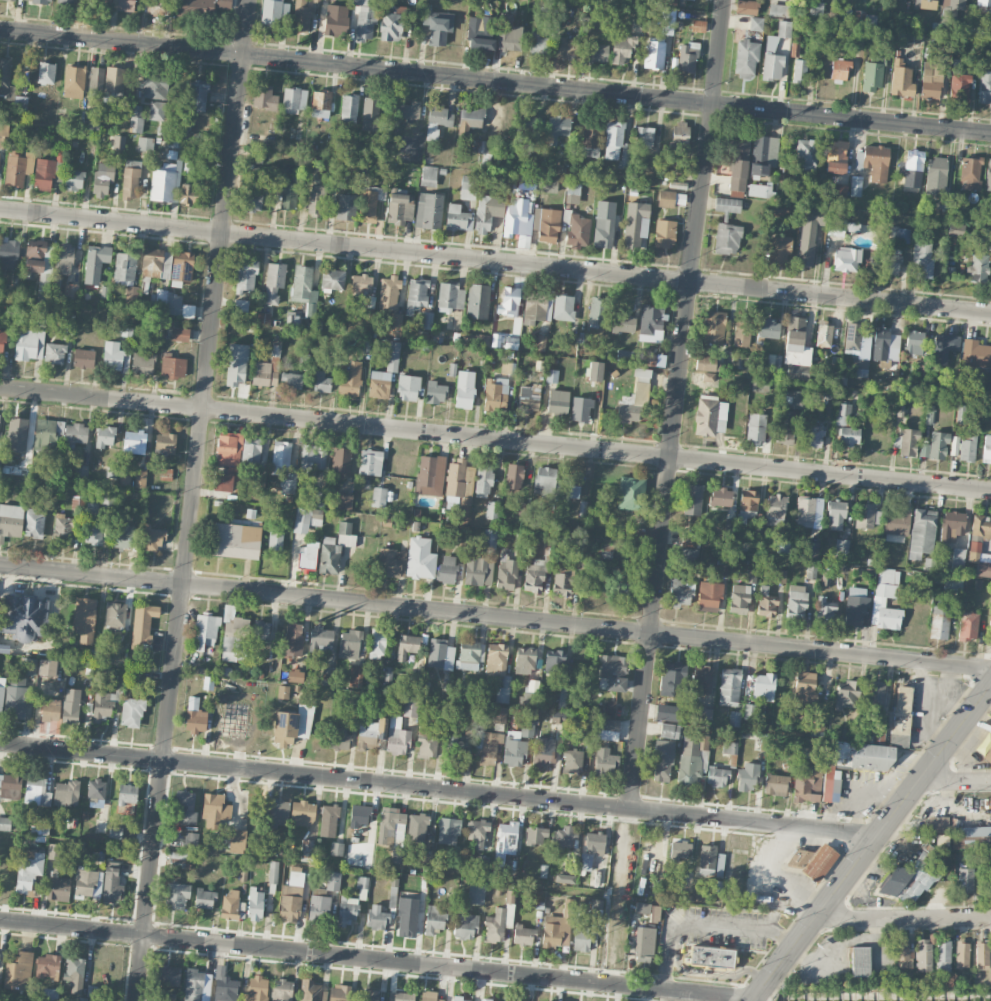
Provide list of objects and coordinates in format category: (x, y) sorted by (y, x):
building: (13, 0)
building: (140, 0)
building: (37, 1)
building: (100, 1)
building: (670, 1)
building: (67, 2)
building: (984, 3)
building: (926, 4)
building: (125, 5)
building: (158, 6)
building: (204, 7)
building: (746, 7)
building: (778, 10)
building: (273, 12)
building: (951, 15)
building: (301, 16)
building: (904, 17)
building: (859, 18)
building: (365, 19)
building: (336, 20)
building: (667, 21)
building: (756, 23)
building: (698, 25)
building: (391, 26)
building: (438, 26)
building: (784, 29)
building: (480, 34)
building: (509, 34)
building: (856, 37)
building: (538, 44)
building: (566, 47)
building: (622, 49)
building: (597, 52)
building: (654, 53)
building: (688, 57)
building: (746, 59)
building: (772, 60)
building: (840, 69)
building: (799, 70)
building: (46, 73)
building: (872, 76)
building: (96, 79)
building: (114, 79)
building: (901, 79)
building: (931, 79)
building: (6, 80)
building: (74, 82)
road: (495, 82)
building: (959, 86)
building: (984, 86)
building: (154, 87)
building: (197, 96)
building: (264, 97)
building: (321, 104)
building: (349, 108)
building: (157, 110)
building: (407, 110)
building: (370, 113)
building: (471, 118)
building: (136, 119)
building: (438, 119)
building: (527, 123)
building: (557, 128)
building: (679, 135)
building: (591, 136)
building: (644, 136)
building: (613, 141)
building: (118, 142)
building: (145, 144)
building: (483, 152)
building: (763, 154)
building: (805, 154)
building: (835, 157)
building: (911, 160)
building: (876, 162)
building: (738, 164)
building: (936, 166)
building: (18, 168)
building: (970, 173)
building: (44, 174)
building: (988, 174)
building: (428, 176)
building: (73, 179)
building: (130, 179)
building: (102, 180)
building: (165, 184)
building: (856, 186)
building: (468, 187)
building: (759, 190)
building: (188, 194)
building: (838, 194)
building: (288, 195)
building: (670, 198)
building: (316, 199)
building: (253, 200)
building: (369, 203)
building: (727, 204)
building: (346, 206)
building: (400, 208)
building: (429, 210)
building: (487, 211)
building: (518, 217)
building: (457, 218)
building: (990, 218)
building: (635, 223)
building: (546, 224)
building: (841, 227)
building: (603, 229)
building: (957, 229)
building: (577, 231)
building: (664, 233)
building: (808, 234)
building: (900, 234)
building: (727, 239)
building: (524, 241)
building: (989, 244)
building: (779, 250)
building: (9, 253)
building: (35, 256)
building: (63, 259)
building: (846, 259)
building: (923, 259)
building: (95, 262)
road: (495, 262)
building: (889, 263)
building: (156, 265)
building: (182, 266)
building: (125, 268)
building: (977, 269)
building: (246, 275)
building: (332, 279)
building: (274, 282)
building: (301, 283)
building: (44, 284)
building: (360, 284)
building: (71, 290)
building: (388, 292)
building: (416, 295)
building: (450, 297)
building: (477, 301)
building: (509, 302)
building: (311, 303)
building: (171, 304)
building: (241, 305)
building: (563, 307)
building: (534, 308)
building: (597, 312)
building: (263, 318)
building: (425, 320)
building: (65, 321)
building: (651, 321)
building: (622, 322)
building: (395, 324)
building: (713, 328)
building: (768, 328)
building: (741, 332)
building: (180, 334)
building: (824, 334)
building: (475, 340)
building: (2, 342)
building: (541, 342)
building: (796, 342)
building: (914, 342)
building: (511, 343)
building: (29, 344)
building: (885, 344)
building: (858, 347)
building: (944, 347)
building: (55, 353)
building: (975, 354)
building: (624, 355)
building: (112, 356)
building: (83, 358)
building: (647, 358)
building: (143, 362)
building: (774, 362)
building: (705, 363)
building: (236, 364)
building: (172, 365)
building: (267, 367)
building: (507, 367)
building: (452, 369)
building: (595, 371)
building: (384, 373)
building: (796, 373)
building: (552, 375)
building: (707, 376)
building: (350, 379)
building: (293, 381)
building: (321, 381)
building: (408, 387)
building: (464, 389)
building: (435, 392)
building: (495, 392)
building: (529, 399)
building: (798, 399)
building: (633, 400)
building: (558, 401)
road: (678, 404)
building: (580, 409)
building: (843, 414)
building: (710, 415)
building: (756, 427)
building: (785, 427)
building: (17, 431)
building: (46, 434)
building: (74, 435)
building: (813, 435)
building: (105, 436)
building: (848, 436)
road: (495, 440)
building: (134, 442)
building: (908, 442)
building: (164, 444)
building: (938, 445)
building: (954, 445)
building: (967, 449)
building: (987, 449)
building: (251, 450)
building: (924, 450)
building: (312, 459)
building: (341, 460)
building: (370, 462)
building: (283, 466)
building: (81, 471)
building: (430, 475)
building: (514, 476)
building: (140, 478)
building: (124, 480)
building: (545, 480)
building: (483, 481)
building: (459, 484)
building: (574, 485)
building: (631, 493)
building: (378, 497)
building: (721, 497)
building: (317, 498)
building: (693, 499)
road: (194, 500)
building: (344, 501)
building: (747, 505)
building: (808, 512)
building: (491, 513)
building: (867, 514)
building: (836, 515)
building: (306, 520)
building: (10, 521)
building: (759, 522)
building: (34, 523)
building: (93, 523)
building: (896, 523)
building: (729, 526)
building: (952, 526)
building: (980, 527)
building: (62, 528)
building: (922, 532)
building: (345, 534)
building: (123, 536)
building: (153, 539)
building: (236, 540)
building: (489, 540)
building: (690, 540)
building: (275, 541)
building: (783, 546)
building: (975, 546)
building: (841, 547)
building: (809, 550)
building: (689, 555)
building: (329, 556)
building: (306, 557)
building: (420, 558)
building: (958, 558)
building: (391, 562)
building: (929, 564)
building: (983, 565)
building: (474, 567)
building: (447, 569)
building: (721, 571)
building: (811, 572)
building: (506, 573)
building: (779, 575)
building: (533, 576)
building: (751, 576)
building: (562, 580)
building: (952, 584)
building: (681, 592)
building: (624, 593)
building: (709, 596)
building: (739, 599)
building: (796, 601)
building: (765, 603)
building: (879, 603)
building: (857, 607)
building: (824, 610)
building: (115, 615)
road: (495, 617)
building: (24, 618)
building: (84, 619)
building: (939, 622)
building: (968, 626)
building: (142, 627)
building: (990, 629)
building: (205, 631)
building: (260, 631)
building: (235, 639)
building: (293, 639)
building: (321, 639)
building: (377, 643)
building: (349, 644)
building: (469, 644)
building: (407, 646)
building: (440, 654)
building: (468, 658)
building: (496, 659)
building: (554, 660)
building: (524, 661)
building: (27, 666)
building: (613, 671)
building: (295, 675)
building: (327, 675)
building: (356, 675)
building: (47, 676)
building: (671, 678)
building: (701, 679)
building: (415, 680)
building: (764, 687)
building: (729, 688)
building: (805, 688)
building: (283, 692)
building: (1, 693)
building: (502, 694)
building: (529, 694)
building: (847, 694)
building: (874, 694)
building: (562, 697)
building: (16, 698)
building: (71, 706)
building: (102, 706)
building: (410, 707)
building: (609, 707)
building: (50, 709)
building: (749, 711)
building: (132, 712)
building: (668, 712)
building: (195, 716)
building: (901, 716)
building: (499, 717)
building: (734, 718)
building: (292, 725)
building: (608, 729)
building: (670, 730)
building: (370, 734)
building: (339, 739)
building: (397, 740)
building: (519, 740)
building: (428, 741)
building: (456, 746)
building: (487, 746)
building: (729, 747)
building: (985, 747)
building: (809, 748)
building: (542, 752)
building: (691, 758)
building: (663, 760)
building: (573, 761)
building: (605, 761)
building: (851, 763)
building: (717, 776)
building: (747, 777)
road: (955, 781)
building: (776, 784)
building: (11, 786)
building: (806, 786)
building: (96, 789)
road: (439, 789)
building: (37, 792)
building: (66, 793)
building: (127, 794)
building: (185, 807)
building: (215, 809)
building: (277, 813)
building: (302, 813)
building: (359, 815)
building: (328, 820)
building: (5, 823)
building: (937, 824)
building: (391, 826)
building: (417, 827)
building: (448, 830)
building: (115, 832)
building: (478, 833)
building: (535, 836)
building: (506, 837)
building: (565, 837)
building: (973, 837)
building: (191, 840)
building: (238, 841)
building: (594, 843)
road: (871, 844)
building: (307, 848)
building: (336, 848)
building: (679, 850)
building: (53, 851)
building: (396, 854)
building: (707, 859)
building: (180, 860)
building: (585, 861)
building: (812, 862)
building: (511, 867)
building: (28, 869)
building: (273, 872)
road: (774, 876)
building: (911, 879)
building: (965, 879)
building: (333, 881)
building: (362, 882)
building: (88, 883)
building: (112, 883)
building: (57, 887)
building: (476, 893)
building: (177, 894)
building: (291, 895)
building: (393, 897)
building: (204, 898)
building: (255, 903)
building: (229, 905)
building: (319, 907)
building: (241, 909)
building: (347, 910)
building: (649, 911)
building: (376, 917)
building: (407, 917)
building: (434, 918)
road: (903, 918)
building: (500, 919)
road: (704, 925)
building: (465, 926)
building: (557, 929)
building: (523, 935)
building: (581, 940)
building: (644, 944)
building: (903, 954)
building: (962, 954)
building: (923, 955)
building: (982, 955)
building: (711, 957)
building: (943, 957)
road: (377, 959)
building: (860, 961)
building: (47, 966)
building: (19, 971)
road: (716, 972)
building: (75, 974)
building: (169, 975)
building: (197, 985)
building: (225, 986)
building: (256, 989)
building: (281, 990)
building: (311, 991)
building: (339, 993)
building: (368, 994)
building: (400, 996)
building: (428, 996)
building: (79, 999)
building: (460, 999)
building: (488, 1000)

